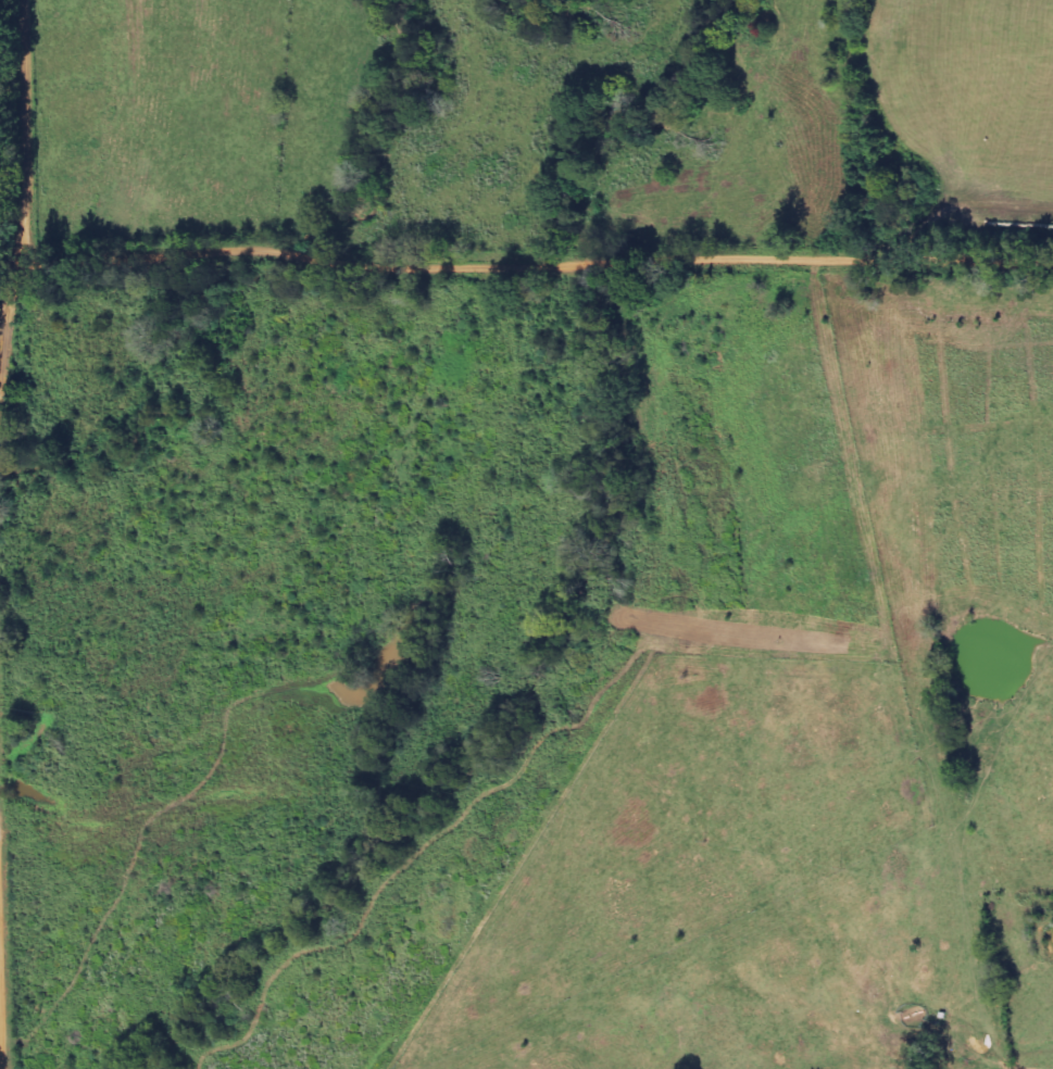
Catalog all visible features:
road: (403, 257)
road: (8, 314)
road: (3, 951)
road: (3, 1047)

